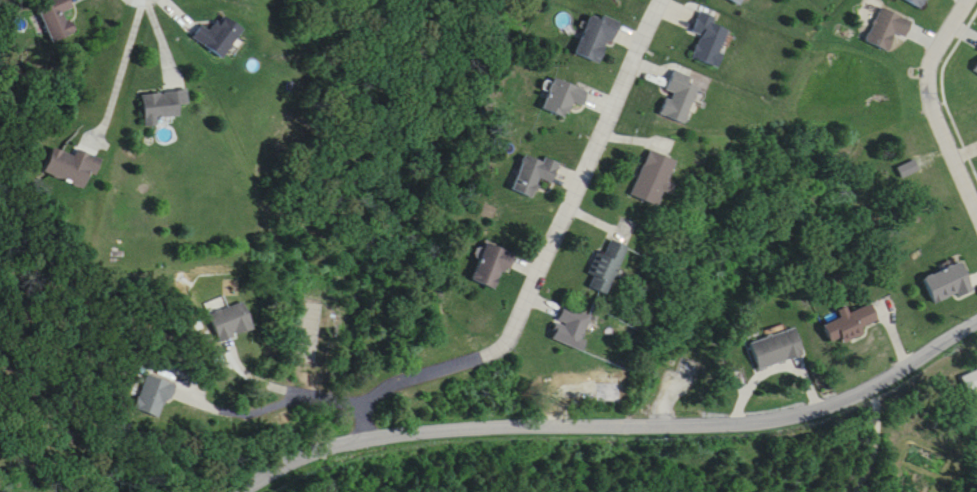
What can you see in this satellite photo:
building: (620, 0)
building: (740, 1)
building: (920, 2)
building: (58, 19)
building: (889, 28)
building: (220, 35)
building: (598, 37)
building: (711, 40)
road: (119, 66)
road: (955, 78)
building: (564, 98)
building: (680, 98)
building: (165, 106)
road: (931, 106)
building: (74, 167)
building: (535, 175)
building: (654, 178)
road: (546, 254)
building: (609, 266)
building: (493, 267)
building: (949, 284)
building: (849, 323)
building: (573, 327)
building: (777, 349)
building: (971, 381)
road: (295, 390)
building: (156, 396)
road: (250, 412)
road: (619, 429)

